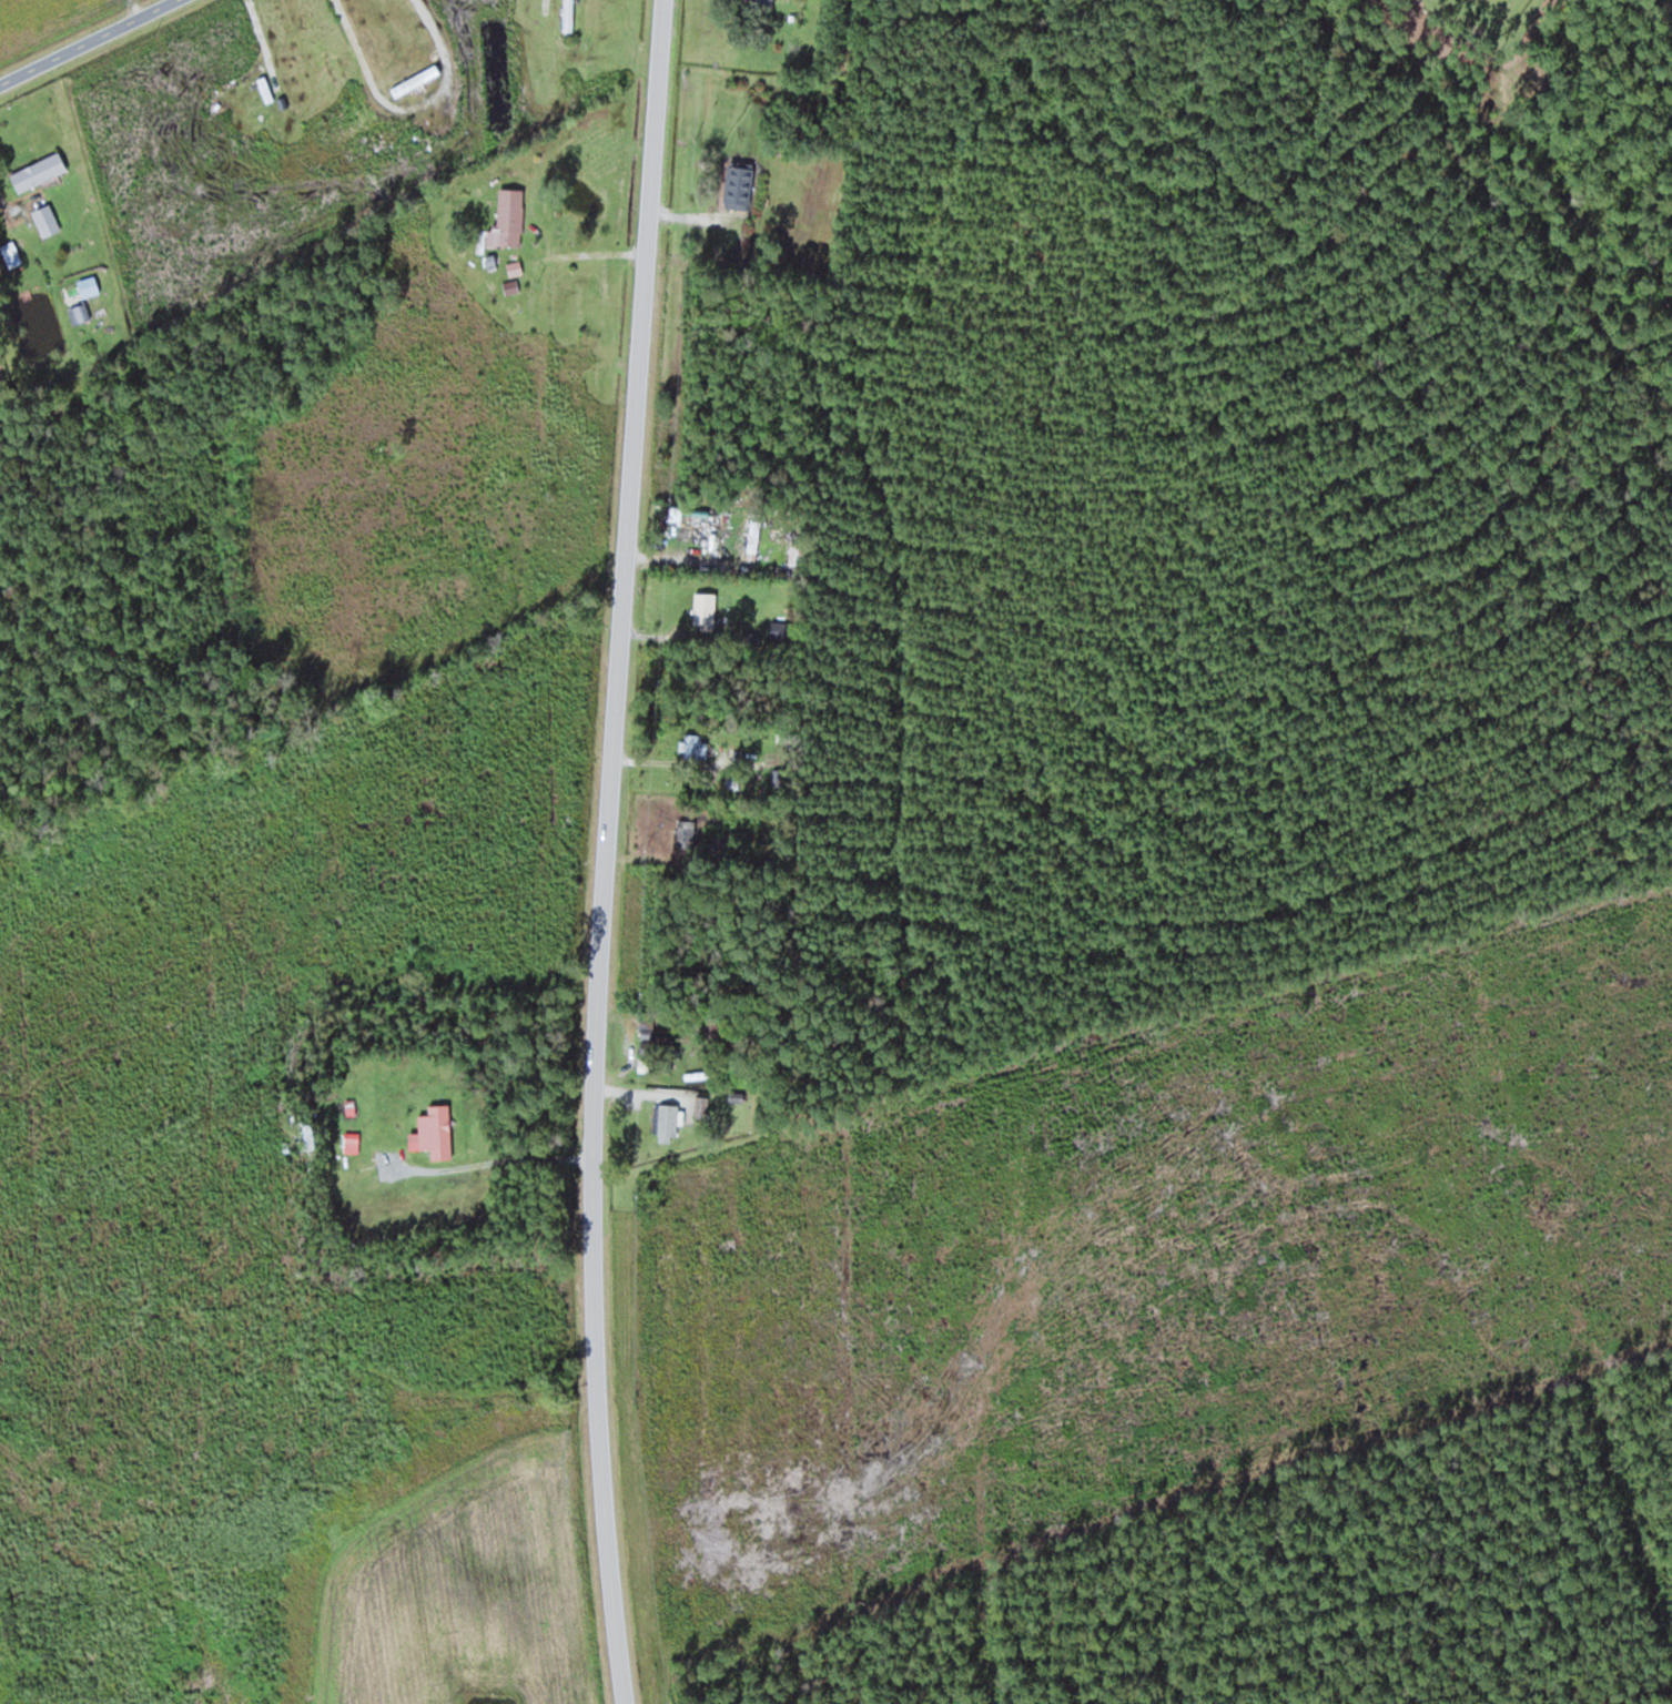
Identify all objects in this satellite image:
building: (764, 3)
building: (568, 17)
road: (90, 43)
building: (266, 89)
building: (39, 171)
building: (739, 184)
building: (510, 216)
building: (47, 220)
building: (11, 253)
building: (80, 313)
building: (592, 351)
building: (756, 536)
building: (705, 610)
building: (780, 632)
building: (698, 745)
building: (687, 832)
road: (612, 852)
building: (665, 1045)
building: (702, 1106)
building: (668, 1122)
building: (437, 1132)
building: (353, 1142)

